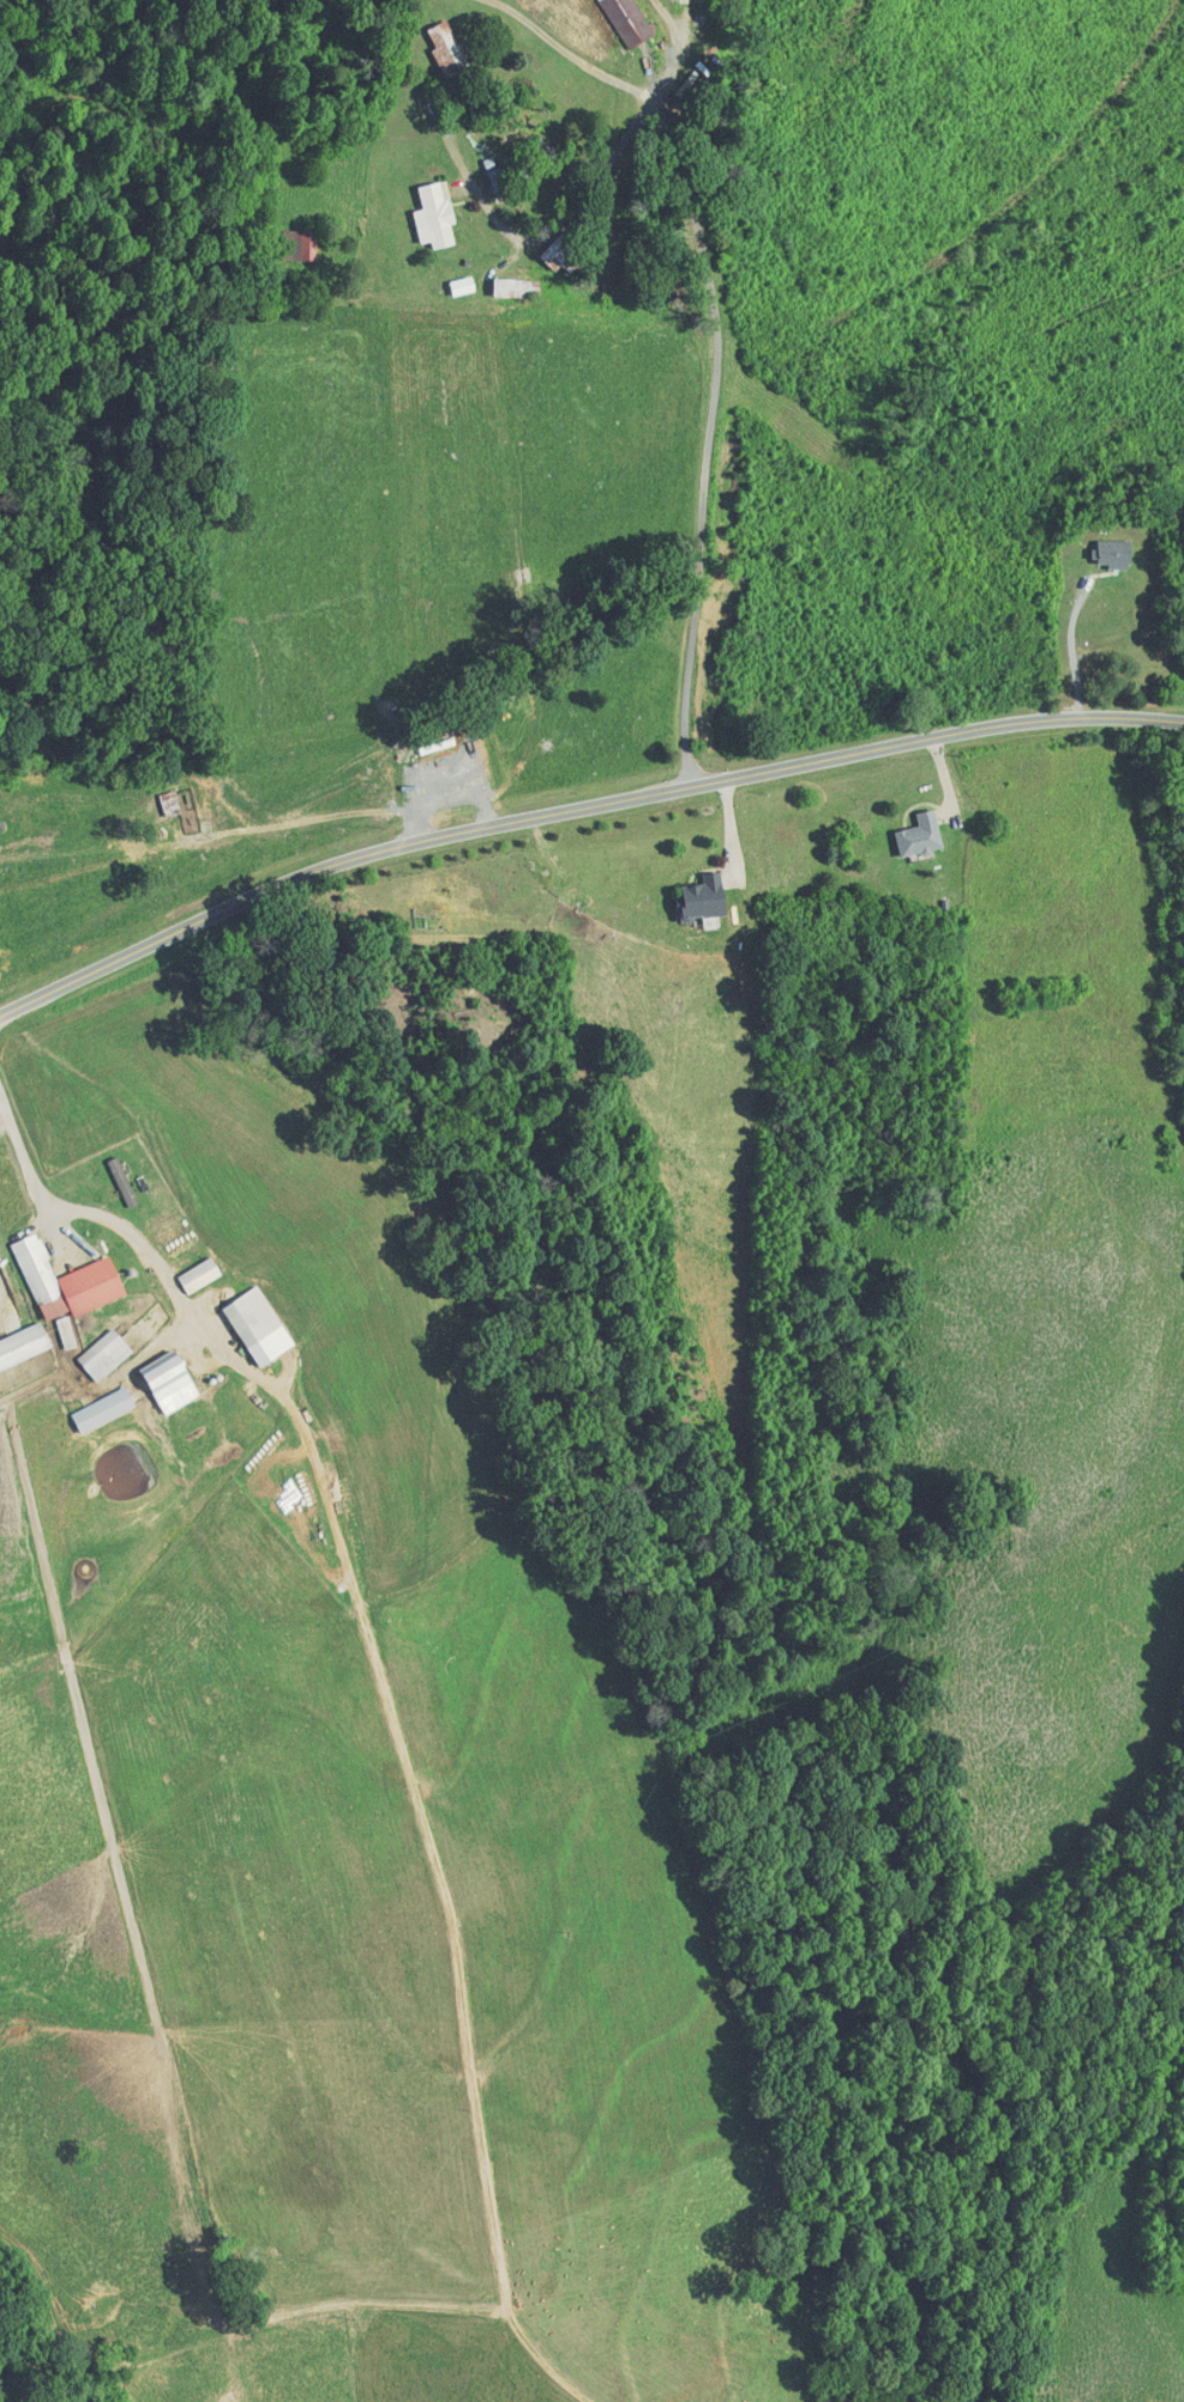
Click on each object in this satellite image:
building: (626, 20)
building: (446, 47)
building: (434, 216)
road: (547, 229)
building: (306, 245)
building: (560, 253)
building: (462, 284)
building: (511, 287)
road: (713, 344)
building: (1113, 553)
road: (1071, 651)
building: (169, 802)
road: (577, 808)
building: (920, 836)
building: (703, 898)
building: (122, 1180)
road: (84, 1209)
building: (199, 1272)
building: (65, 1278)
building: (257, 1324)
building: (66, 1330)
building: (23, 1343)
building: (104, 1353)
building: (169, 1379)
building: (102, 1408)

